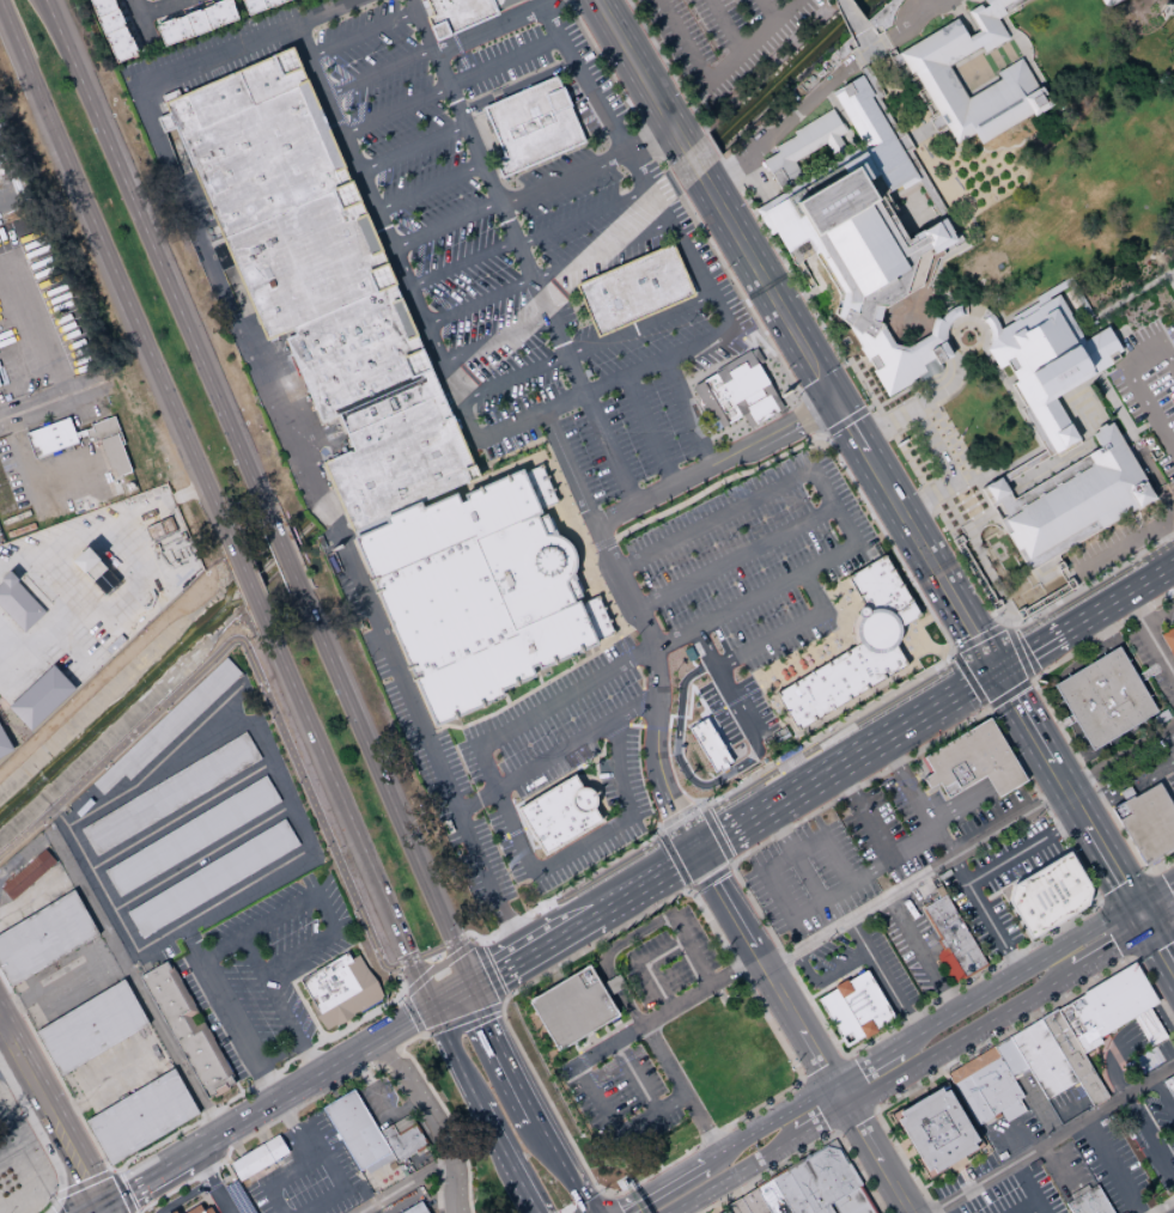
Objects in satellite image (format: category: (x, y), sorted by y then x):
building: (147, 0)
road: (1103, 1)
building: (1107, 2)
building: (255, 4)
building: (501, 4)
road: (159, 7)
road: (764, 10)
building: (454, 14)
road: (850, 16)
road: (141, 20)
building: (195, 23)
road: (424, 23)
road: (724, 24)
road: (997, 26)
building: (111, 30)
road: (360, 32)
parking lot: (728, 43)
road: (504, 56)
road: (443, 63)
road: (717, 66)
road: (377, 71)
building: (931, 73)
road: (517, 84)
road: (814, 90)
road: (393, 105)
building: (529, 126)
road: (475, 140)
road: (649, 140)
building: (805, 145)
road: (410, 146)
park: (1052, 148)
road: (565, 177)
building: (778, 179)
road: (426, 183)
road: (713, 200)
road: (655, 202)
road: (938, 203)
road: (444, 224)
parking lot: (491, 227)
road: (524, 234)
building: (864, 244)
road: (153, 250)
road: (114, 270)
road: (541, 270)
road: (536, 276)
road: (1170, 279)
building: (316, 281)
building: (634, 292)
road: (32, 316)
road: (1099, 316)
road: (639, 325)
road: (494, 337)
road: (765, 351)
building: (1046, 364)
road: (1125, 370)
road: (511, 378)
building: (0, 385)
building: (741, 390)
road: (865, 390)
road: (53, 398)
road: (687, 412)
road: (518, 416)
road: (281, 419)
road: (844, 420)
road: (649, 429)
building: (104, 431)
road: (602, 431)
building: (53, 438)
road: (932, 441)
road: (833, 450)
building: (116, 456)
road: (716, 465)
road: (26, 483)
building: (1070, 500)
road: (1166, 504)
road: (103, 525)
building: (159, 530)
road: (1113, 543)
road: (282, 548)
road: (735, 556)
road: (925, 557)
building: (98, 573)
road: (248, 580)
building: (480, 598)
road: (1121, 598)
building: (19, 603)
road: (1157, 614)
road: (1100, 633)
road: (1149, 636)
road: (979, 638)
building: (1168, 640)
building: (853, 647)
parking lot: (681, 650)
road: (1016, 650)
road: (1033, 652)
road: (20, 653)
road: (951, 653)
road: (1108, 658)
road: (1112, 666)
road: (1154, 669)
traffic signals: (996, 675)
road: (1139, 676)
road: (971, 682)
road: (1008, 695)
building: (1103, 697)
building: (41, 700)
road: (267, 700)
road: (1044, 702)
road: (1067, 719)
road: (528, 720)
building: (170, 724)
road: (1062, 724)
road: (851, 725)
road: (1090, 737)
building: (5, 743)
building: (708, 745)
road: (1038, 745)
road: (1168, 748)
road: (552, 750)
road: (714, 754)
road: (1027, 755)
road: (1070, 757)
building: (971, 761)
road: (1030, 762)
road: (846, 763)
road: (1034, 768)
road: (999, 772)
road: (1004, 779)
road: (898, 782)
road: (1008, 785)
road: (384, 787)
road: (1126, 788)
building: (1127, 788)
building: (170, 793)
road: (938, 796)
road: (907, 798)
road: (955, 798)
road: (927, 805)
road: (960, 805)
building: (556, 812)
road: (963, 812)
road: (347, 815)
road: (176, 817)
road: (676, 821)
building: (1146, 822)
road: (719, 830)
road: (876, 834)
building: (190, 837)
road: (912, 842)
road: (1023, 851)
road: (971, 852)
traffic signals: (698, 853)
parking lot: (844, 857)
road: (950, 858)
road: (197, 859)
road: (687, 859)
road: (1107, 861)
road: (668, 864)
road: (1158, 867)
road: (803, 868)
building: (28, 874)
road: (93, 874)
road: (590, 874)
building: (209, 878)
road: (652, 878)
road: (711, 879)
road: (846, 882)
traffic signals: (1119, 883)
road: (1120, 886)
traffic signals: (1166, 888)
road: (691, 892)
building: (1047, 894)
road: (1162, 894)
road: (1154, 895)
road: (36, 897)
road: (1090, 908)
traffic signals: (1133, 908)
road: (1138, 916)
road: (1158, 916)
road: (262, 921)
traffic signals: (1144, 926)
road: (501, 927)
road: (1111, 929)
road: (546, 934)
building: (953, 935)
building: (44, 938)
road: (749, 940)
traffic signals: (1112, 945)
road: (1154, 946)
road: (1107, 947)
road: (691, 950)
road: (1157, 950)
traffic signals: (1157, 950)
road: (127, 952)
road: (923, 955)
road: (604, 957)
road: (637, 964)
road: (437, 967)
road: (489, 967)
road: (673, 974)
road: (825, 974)
parking lot: (266, 975)
road: (1014, 976)
road: (884, 977)
road: (134, 981)
traffic signals: (467, 982)
building: (610, 985)
road: (59, 988)
building: (337, 988)
road: (448, 994)
building: (1106, 1006)
traffic signals: (430, 1007)
building: (853, 1007)
road: (225, 1008)
building: (568, 1008)
road: (308, 1013)
road: (412, 1014)
road: (661, 1014)
road: (464, 1022)
building: (92, 1026)
building: (1148, 1028)
road: (388, 1029)
building: (187, 1030)
road: (959, 1037)
road: (1120, 1037)
road: (6, 1040)
road: (369, 1041)
road: (986, 1046)
road: (499, 1050)
road: (353, 1052)
road: (6, 1053)
road: (387, 1053)
road: (452, 1056)
road: (817, 1056)
road: (1114, 1056)
building: (1009, 1057)
building: (1072, 1057)
building: (1041, 1059)
road: (378, 1061)
road: (865, 1065)
road: (823, 1067)
road: (107, 1077)
road: (633, 1077)
road: (801, 1078)
road: (858, 1081)
building: (1169, 1085)
building: (985, 1087)
road: (681, 1090)
road: (323, 1091)
road: (840, 1093)
road: (1162, 1095)
road: (378, 1098)
road: (414, 1098)
road: (819, 1105)
road: (1172, 1105)
road: (442, 1108)
road: (48, 1115)
building: (142, 1116)
road: (243, 1120)
road: (815, 1121)
road: (854, 1121)
road: (615, 1124)
road: (768, 1124)
road: (294, 1127)
building: (353, 1129)
building: (933, 1129)
road: (36, 1132)
road: (863, 1132)
road: (492, 1135)
road: (1149, 1135)
building: (401, 1138)
road: (1048, 1138)
road: (170, 1139)
road: (195, 1148)
road: (807, 1150)
road: (317, 1153)
building: (258, 1158)
road: (20, 1164)
road: (560, 1165)
building: (813, 1165)
road: (1113, 1165)
road: (1054, 1168)
building: (379, 1172)
road: (110, 1174)
road: (725, 1176)
road: (221, 1178)
building: (823, 1181)
road: (141, 1183)
road: (83, 1185)
road: (402, 1185)
road: (452, 1185)
road: (895, 1187)
road: (1027, 1187)
road: (522, 1188)
road: (663, 1189)
road: (120, 1191)
building: (789, 1193)
building: (829, 1193)
road: (91, 1195)
building: (771, 1197)
building: (848, 1200)
parking lot: (194, 1201)
road: (583, 1201)
road: (212, 1202)
road: (610, 1202)
building: (753, 1202)
building: (1088, 1202)
road: (61, 1205)
building: (738, 1205)
road: (1161, 1205)
road: (1021, 1206)
building: (729, 1207)
road: (948, 1207)
road: (129, 1208)
building: (413, 1208)
building: (863, 1208)
traffic signals: (99, 1209)
building: (822, 1209)
road: (96, 1211)
road: (99, 1211)
road: (126, 1211)
building: (722, 1211)
road: (236, 1212)

